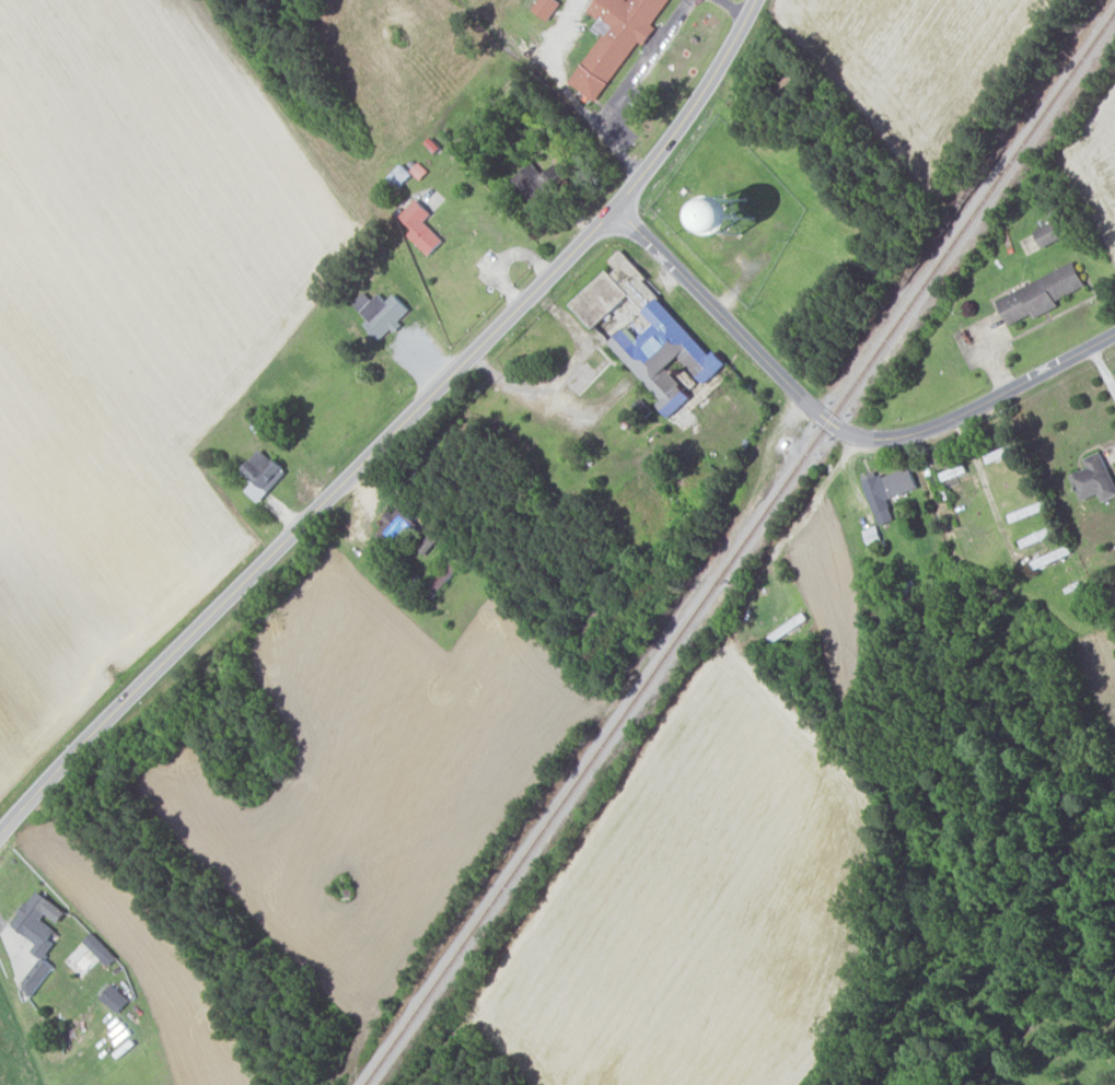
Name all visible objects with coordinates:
building: (545, 7)
building: (614, 39)
building: (398, 175)
building: (534, 180)
building: (733, 211)
building: (420, 225)
building: (1047, 233)
building: (1039, 293)
building: (382, 313)
building: (648, 332)
road: (1103, 369)
road: (833, 425)
road: (394, 432)
building: (998, 453)
building: (952, 471)
building: (262, 474)
building: (1094, 478)
building: (887, 490)
road: (994, 514)
building: (393, 526)
building: (871, 536)
building: (1026, 540)
building: (427, 542)
railway: (739, 548)
building: (445, 573)
building: (793, 621)
building: (37, 921)
building: (98, 948)
building: (36, 975)
building: (114, 997)

